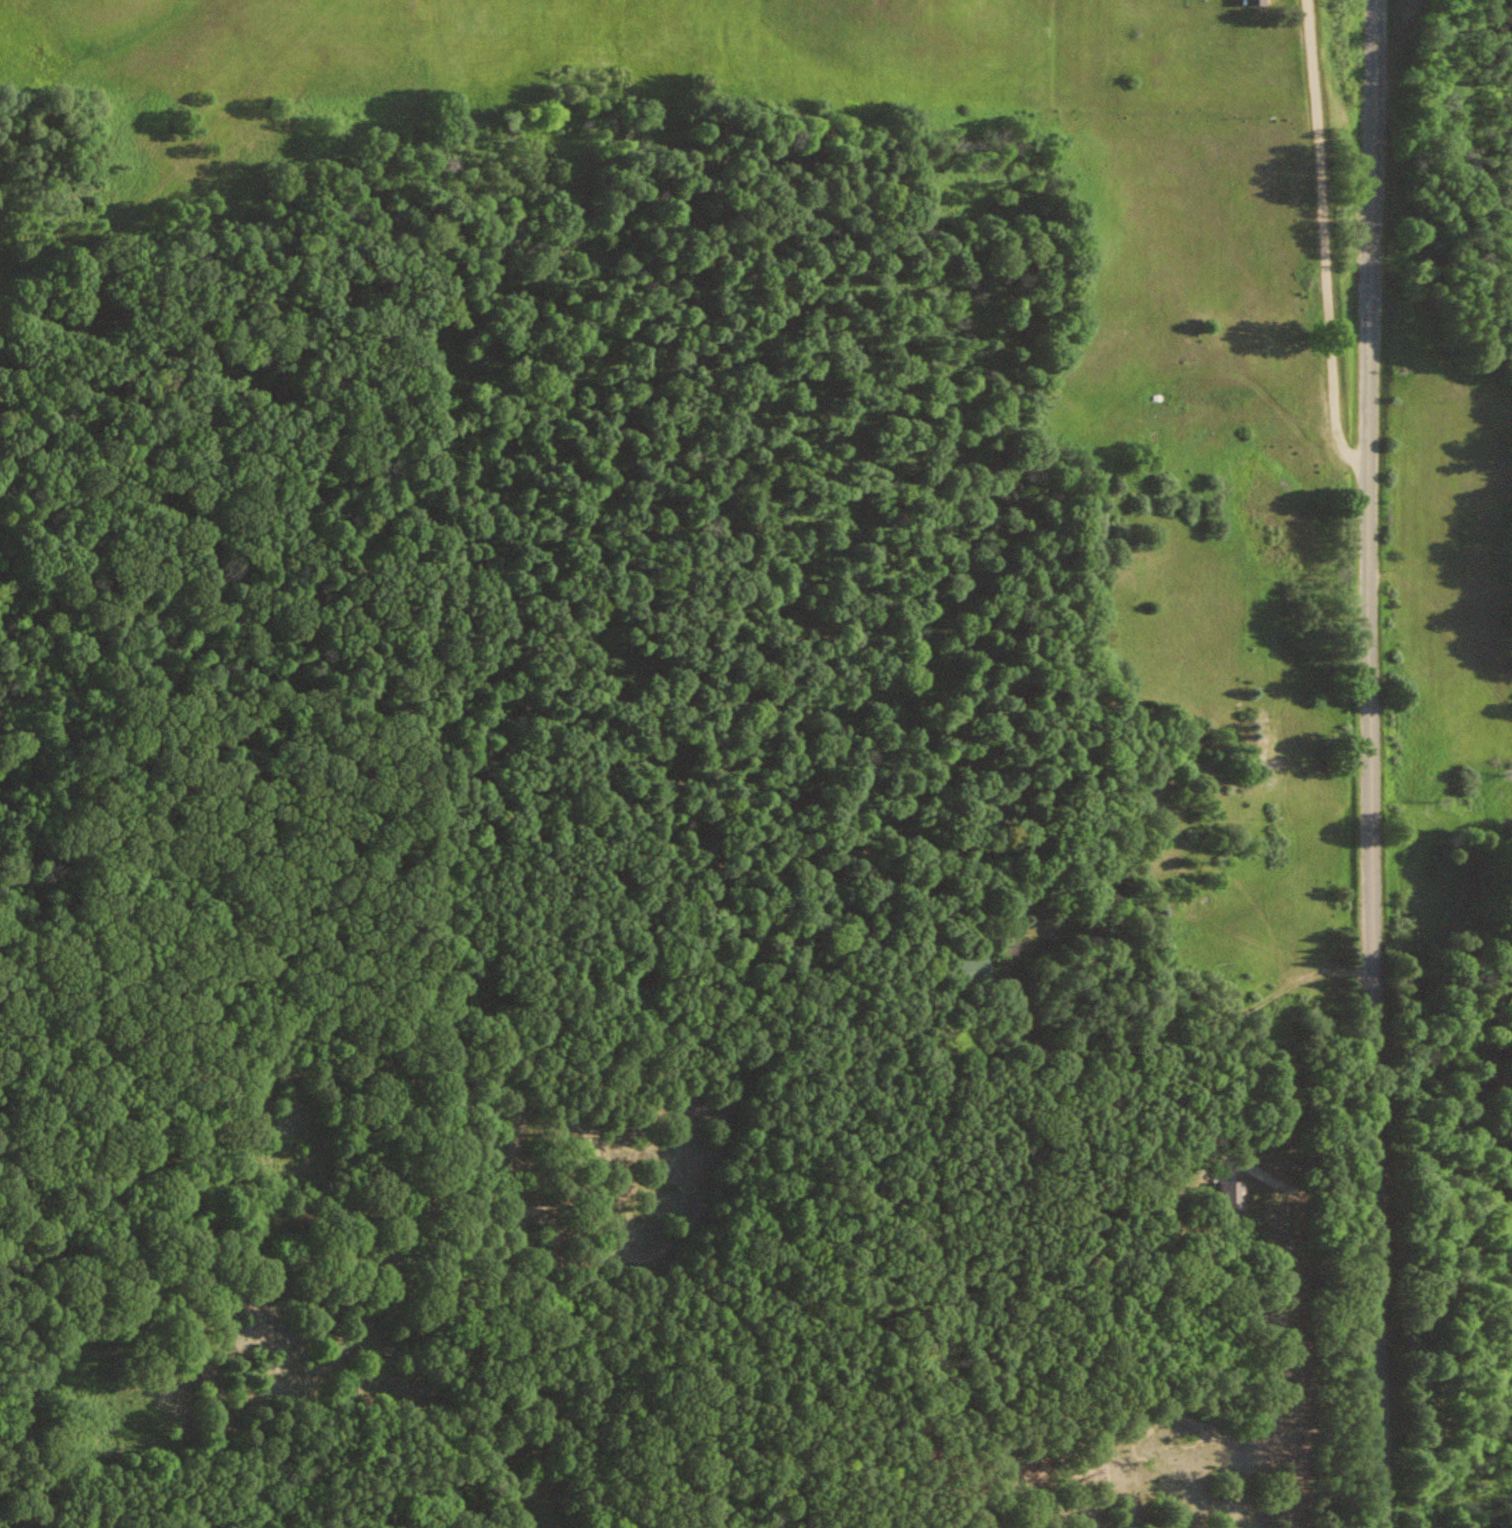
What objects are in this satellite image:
building: (1244, 2)
road: (1317, 242)
road: (1374, 764)
building: (973, 969)

